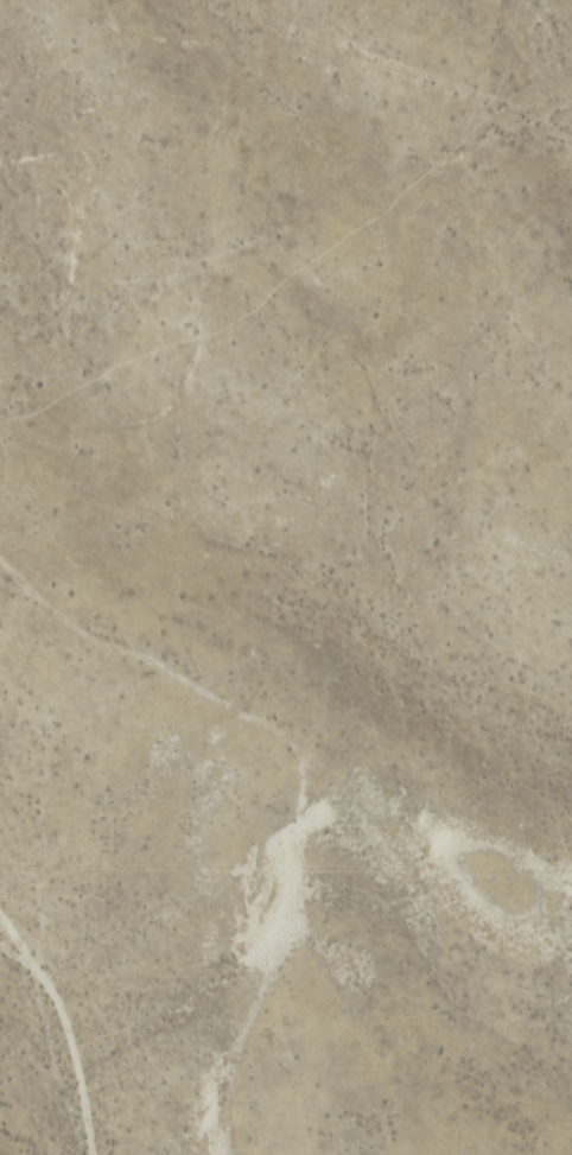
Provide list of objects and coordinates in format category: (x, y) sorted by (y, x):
crop: (286, 577)
road: (66, 1024)

